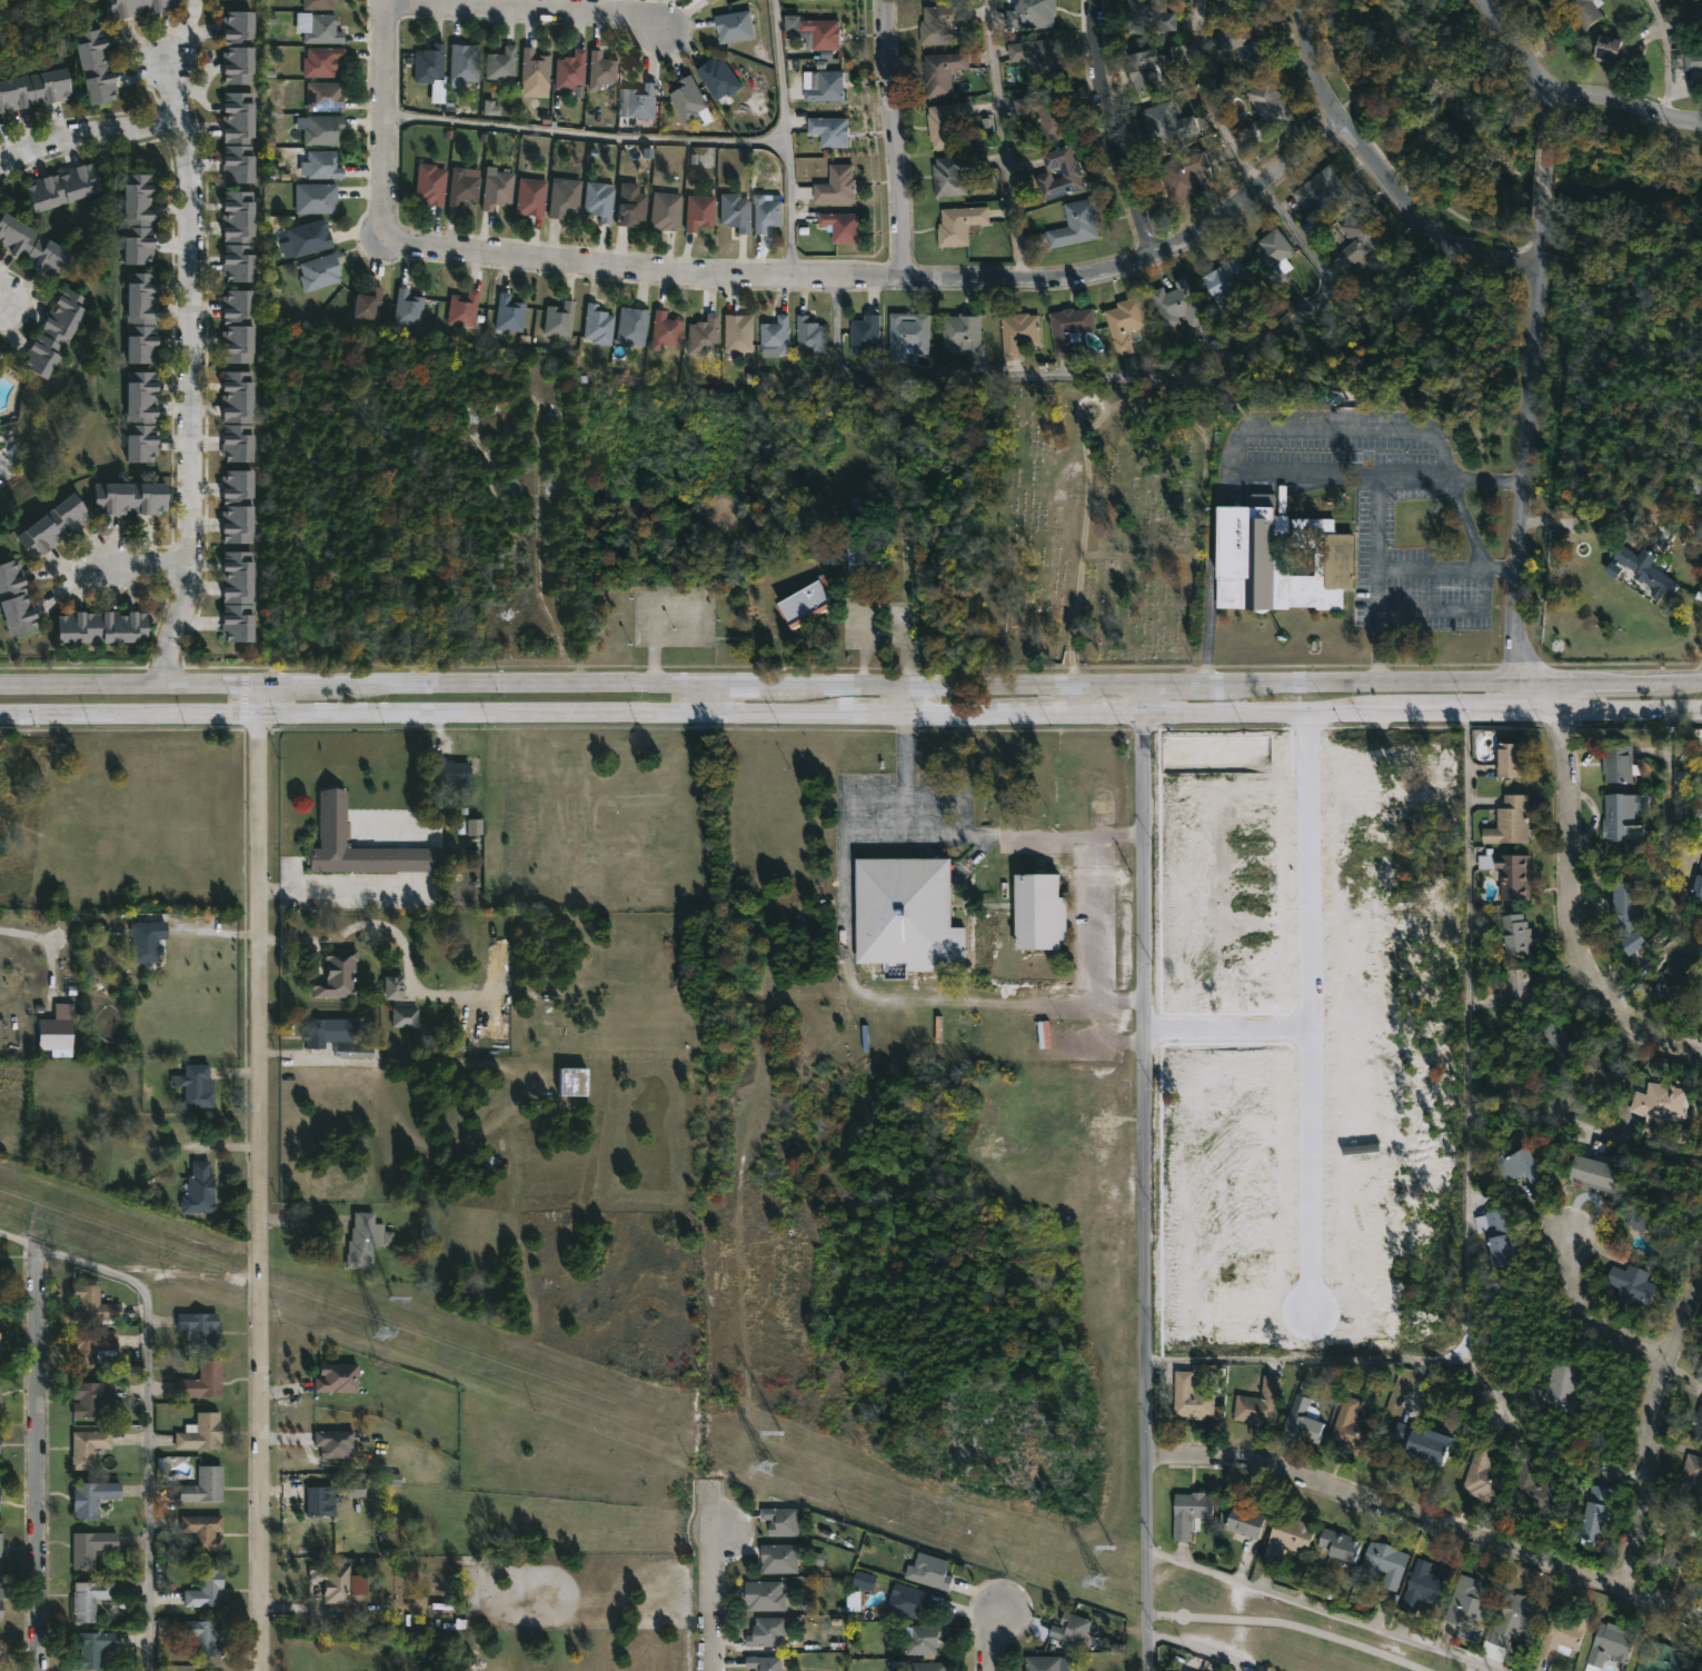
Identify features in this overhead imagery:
building: (707, 0)
building: (1694, 0)
building: (713, 1)
building: (320, 4)
building: (1234, 6)
road: (527, 7)
building: (138, 8)
building: (1583, 11)
building: (1029, 14)
building: (1693, 17)
building: (1145, 18)
building: (938, 22)
building: (738, 27)
building: (320, 29)
road: (183, 30)
building: (825, 32)
building: (1246, 44)
building: (238, 47)
building: (1616, 50)
road: (1668, 57)
building: (1034, 58)
building: (1692, 59)
building: (324, 62)
building: (431, 64)
building: (465, 64)
road: (1526, 64)
building: (504, 66)
building: (98, 68)
building: (536, 68)
building: (1147, 68)
building: (573, 71)
building: (604, 71)
building: (940, 71)
building: (723, 80)
building: (828, 87)
building: (36, 91)
building: (326, 97)
road: (1206, 98)
building: (690, 99)
building: (645, 101)
road: (1625, 106)
building: (491, 109)
building: (1265, 110)
building: (1042, 113)
building: (1163, 122)
building: (945, 123)
road: (150, 126)
road: (1117, 128)
building: (833, 129)
building: (325, 130)
road: (787, 133)
road: (585, 135)
building: (237, 137)
road: (896, 138)
road: (1001, 139)
road: (53, 140)
building: (325, 165)
road: (1380, 171)
building: (952, 172)
building: (1057, 172)
building: (1183, 173)
road: (1543, 176)
building: (837, 183)
building: (432, 185)
building: (63, 186)
building: (465, 187)
building: (499, 189)
building: (1322, 190)
building: (533, 196)
building: (317, 198)
building: (566, 198)
building: (601, 201)
building: (633, 207)
building: (668, 210)
building: (701, 211)
building: (738, 211)
building: (768, 212)
building: (141, 217)
building: (1074, 222)
building: (957, 223)
building: (840, 225)
building: (240, 235)
building: (1357, 236)
building: (310, 238)
building: (32, 243)
road: (528, 249)
building: (1270, 255)
road: (1143, 256)
building: (321, 271)
building: (1223, 277)
building: (371, 302)
building: (1175, 304)
building: (411, 308)
building: (466, 308)
building: (511, 314)
building: (142, 318)
building: (561, 319)
road: (187, 322)
building: (1122, 322)
building: (600, 324)
building: (240, 325)
building: (634, 326)
building: (1067, 328)
building: (667, 330)
building: (54, 331)
building: (741, 332)
building: (1017, 332)
building: (905, 334)
building: (961, 334)
building: (705, 335)
building: (814, 335)
building: (865, 335)
building: (778, 336)
building: (624, 380)
road: (1111, 380)
building: (142, 416)
building: (240, 416)
building: (1, 419)
road: (1520, 450)
road: (1315, 473)
road: (1416, 479)
building: (1694, 484)
building: (131, 498)
building: (239, 506)
building: (867, 511)
building: (56, 525)
park: (1095, 526)
building: (1276, 556)
building: (865, 557)
road: (143, 563)
road: (1444, 566)
building: (1613, 569)
building: (1645, 569)
building: (240, 598)
building: (16, 599)
building: (810, 604)
road: (178, 615)
building: (103, 626)
road: (166, 660)
road: (850, 683)
road: (1539, 692)
road: (1151, 694)
road: (704, 696)
road: (1074, 696)
road: (907, 697)
road: (260, 698)
road: (850, 710)
building: (1505, 760)
building: (1618, 764)
building: (452, 770)
building: (1401, 808)
building: (1621, 815)
building: (1507, 822)
building: (474, 827)
road: (1671, 830)
road: (974, 834)
building: (345, 842)
building: (1506, 873)
building: (1696, 885)
road: (346, 891)
building: (1039, 912)
road: (1567, 913)
building: (906, 914)
building: (1623, 917)
building: (1514, 934)
road: (42, 941)
building: (149, 943)
building: (339, 975)
building: (1674, 982)
building: (1520, 985)
building: (392, 987)
road: (1311, 1008)
building: (407, 1017)
road: (1233, 1025)
building: (56, 1030)
building: (327, 1034)
road: (1469, 1034)
building: (1553, 1040)
building: (354, 1052)
building: (1604, 1068)
road: (1153, 1082)
building: (578, 1083)
building: (197, 1086)
building: (1658, 1098)
building: (1513, 1162)
building: (1593, 1172)
building: (201, 1188)
road: (260, 1193)
building: (1640, 1219)
building: (1494, 1237)
building: (368, 1240)
building: (1631, 1283)
building: (0, 1299)
building: (93, 1304)
road: (1591, 1322)
building: (201, 1329)
power tower: (382, 1333)
building: (0, 1339)
building: (92, 1345)
road: (1330, 1355)
building: (1699, 1371)
building: (339, 1377)
building: (205, 1382)
building: (1555, 1385)
building: (1, 1394)
building: (1190, 1396)
building: (93, 1399)
road: (147, 1402)
building: (1258, 1402)
building: (1302, 1413)
building: (1696, 1424)
building: (1351, 1426)
building: (201, 1433)
road: (1648, 1433)
building: (1419, 1441)
building: (336, 1443)
building: (89, 1448)
road: (38, 1459)
power tower: (774, 1465)
building: (1485, 1474)
building: (1692, 1475)
building: (206, 1485)
building: (354, 1489)
building: (1531, 1494)
building: (94, 1496)
building: (0, 1500)
building: (322, 1501)
building: (1188, 1512)
road: (1427, 1516)
building: (1593, 1518)
building: (785, 1520)
building: (1243, 1521)
building: (205, 1532)
building: (1285, 1536)
building: (1, 1543)
building: (1338, 1543)
building: (92, 1548)
building: (1681, 1548)
building: (783, 1558)
road: (1148, 1562)
building: (1384, 1562)
building: (930, 1571)
power tower: (1092, 1576)
building: (864, 1580)
building: (335, 1581)
building: (1425, 1585)
building: (206, 1590)
building: (767, 1595)
road: (707, 1597)
building: (90, 1599)
building: (905, 1599)
building: (1469, 1599)
building: (1, 1603)
road: (325, 1608)
road: (1322, 1610)
building: (1510, 1623)
building: (1069, 1630)
building: (770, 1631)
building: (1563, 1632)
building: (206, 1637)
building: (918, 1638)
road: (989, 1639)
building: (1609, 1644)
building: (1, 1647)
building: (93, 1649)
road: (1210, 1651)
building: (1659, 1657)
building: (768, 1663)
building: (1042, 1663)
building: (927, 1667)
building: (1183, 1670)
building: (1185, 1670)

